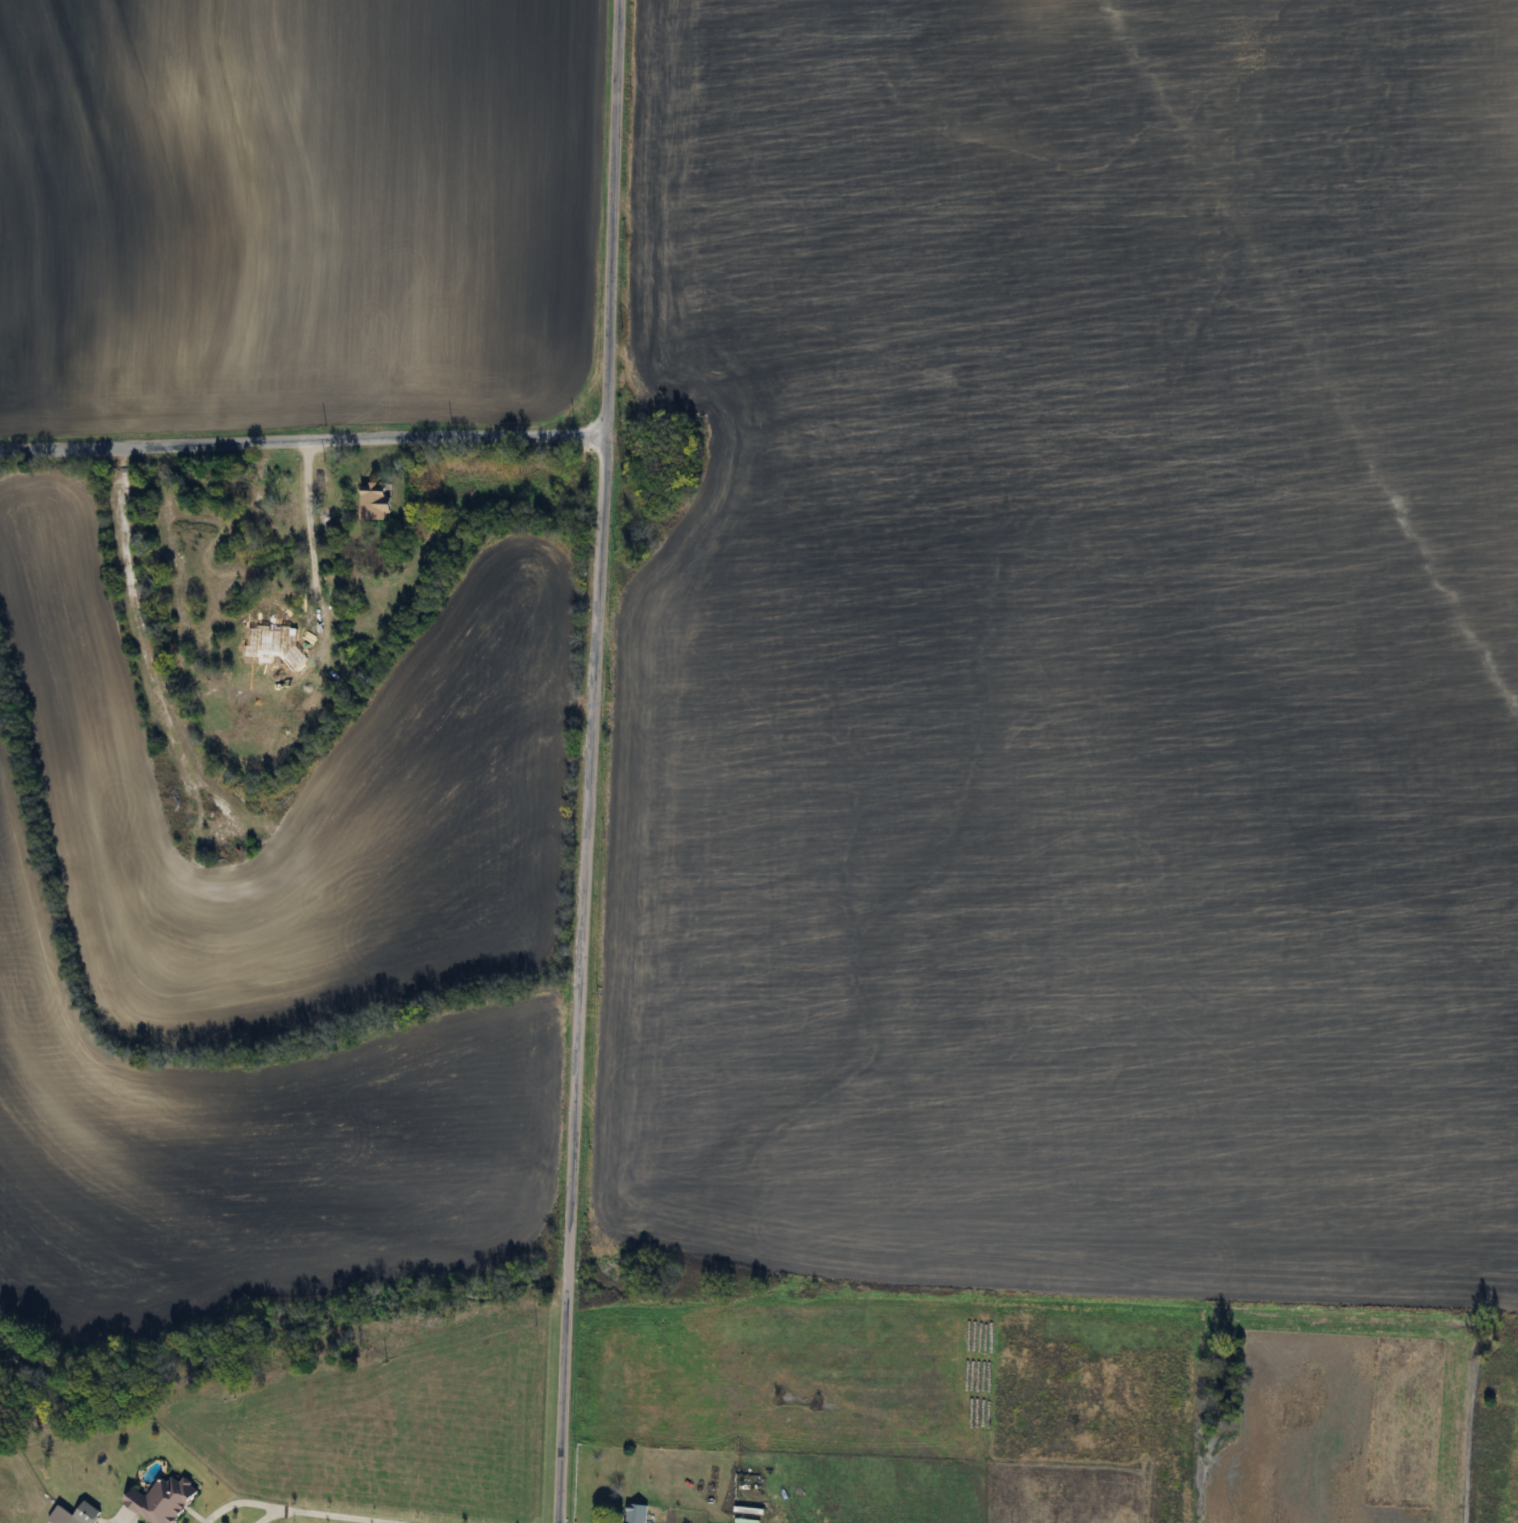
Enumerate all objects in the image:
road: (302, 441)
road: (314, 489)
building: (370, 500)
building: (328, 509)
building: (283, 516)
building: (304, 625)
road: (590, 761)
building: (157, 1501)
road: (235, 1505)
building: (82, 1514)
building: (634, 1514)
road: (320, 1516)
road: (264, 1518)

